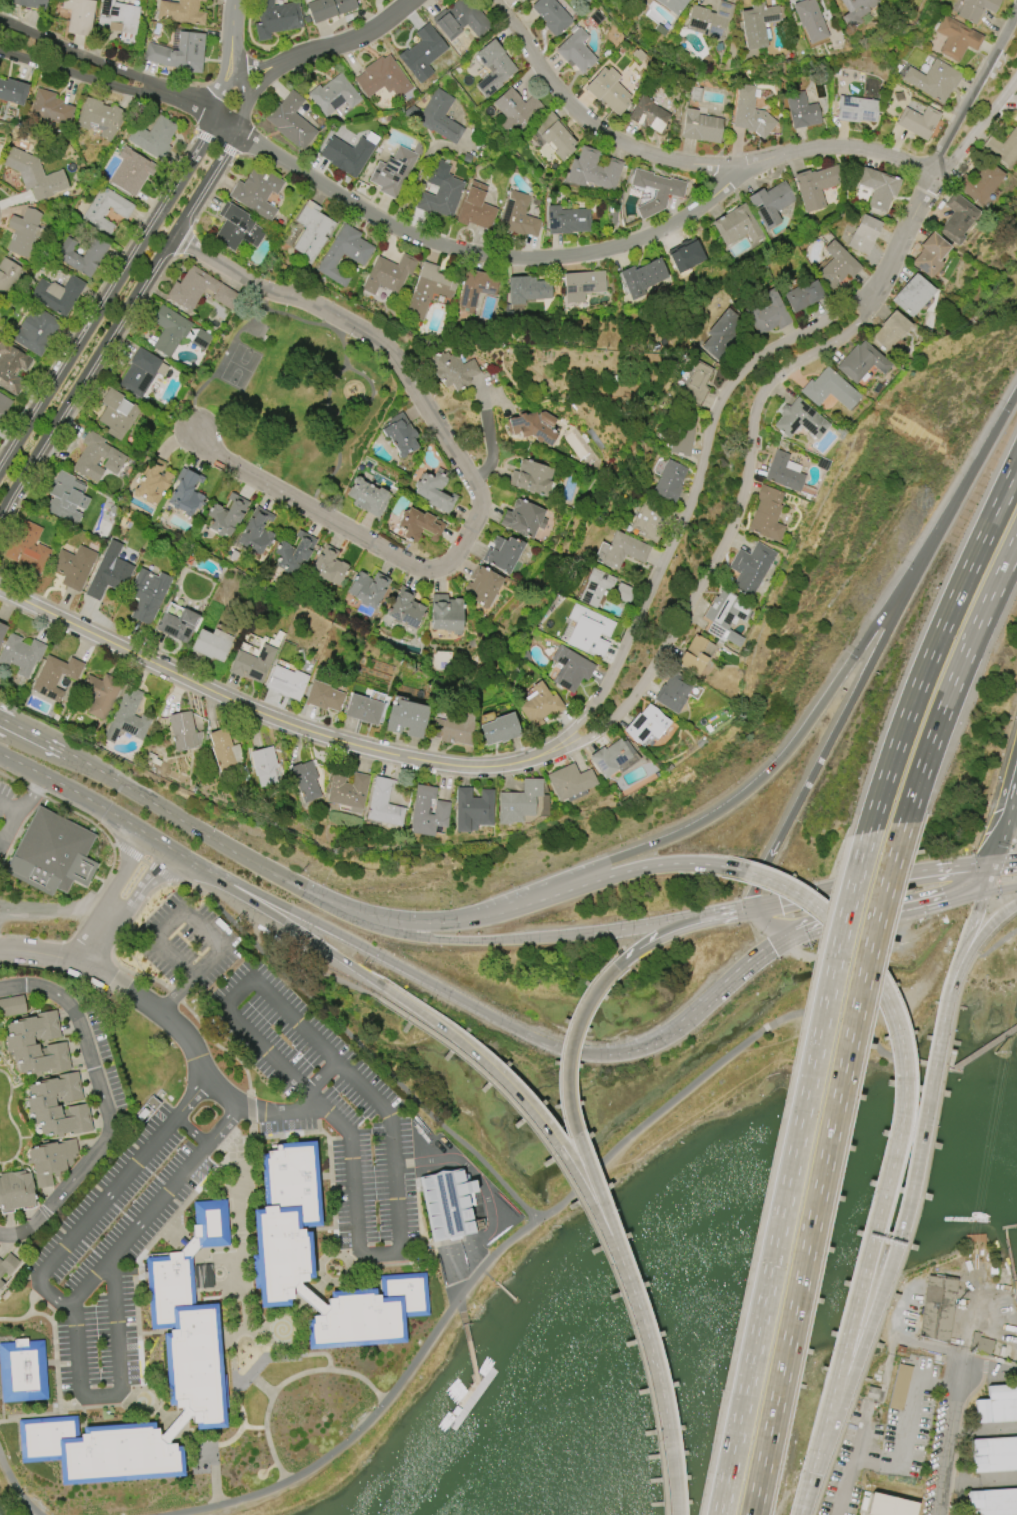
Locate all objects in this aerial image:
building: (522, 0)
building: (30, 3)
building: (672, 5)
building: (327, 8)
building: (975, 9)
building: (856, 11)
building: (180, 12)
building: (79, 16)
building: (117, 16)
building: (551, 16)
road: (232, 18)
building: (276, 18)
building: (709, 19)
building: (461, 20)
building: (809, 20)
building: (757, 24)
building: (956, 38)
road: (350, 40)
building: (576, 51)
building: (422, 53)
building: (179, 54)
road: (83, 56)
road: (245, 58)
road: (228, 66)
building: (492, 68)
road: (237, 71)
road: (81, 76)
building: (382, 78)
building: (933, 80)
road: (972, 90)
building: (608, 91)
building: (13, 92)
road: (251, 92)
building: (333, 95)
building: (695, 95)
building: (50, 107)
building: (856, 110)
building: (516, 111)
building: (801, 111)
building: (750, 113)
building: (649, 115)
building: (100, 117)
building: (436, 117)
building: (290, 121)
building: (918, 121)
building: (700, 127)
road: (977, 129)
building: (554, 136)
building: (153, 138)
building: (1002, 148)
building: (347, 155)
building: (466, 158)
road: (683, 161)
building: (593, 170)
building: (130, 171)
building: (394, 171)
building: (33, 174)
building: (979, 183)
building: (815, 185)
building: (878, 188)
building: (440, 191)
building: (257, 192)
building: (669, 192)
building: (647, 195)
building: (770, 203)
building: (475, 208)
building: (105, 210)
building: (518, 216)
building: (957, 218)
building: (567, 220)
road: (909, 221)
building: (737, 225)
building: (236, 228)
building: (312, 231)
building: (23, 232)
building: (863, 235)
road: (448, 246)
building: (930, 254)
road: (135, 257)
building: (330, 260)
building: (836, 265)
building: (83, 267)
building: (388, 274)
building: (7, 275)
building: (642, 277)
building: (582, 285)
building: (191, 288)
building: (475, 288)
building: (526, 289)
building: (429, 291)
building: (57, 294)
building: (911, 295)
building: (802, 296)
building: (225, 297)
building: (767, 314)
road: (116, 320)
building: (169, 330)
building: (35, 331)
building: (889, 331)
building: (721, 334)
building: (200, 339)
building: (861, 362)
building: (12, 368)
building: (451, 370)
building: (141, 372)
building: (695, 382)
building: (829, 389)
park: (296, 397)
building: (4, 405)
building: (117, 414)
building: (799, 420)
building: (532, 426)
building: (399, 434)
building: (682, 434)
road: (991, 436)
building: (97, 458)
building: (783, 471)
road: (467, 474)
building: (531, 478)
building: (151, 481)
building: (669, 481)
building: (434, 491)
building: (186, 493)
road: (693, 495)
building: (367, 497)
building: (66, 498)
building: (767, 514)
building: (226, 515)
building: (523, 519)
building: (654, 519)
building: (419, 525)
road: (731, 526)
building: (256, 532)
building: (27, 547)
building: (624, 550)
building: (294, 553)
building: (502, 553)
building: (73, 566)
building: (327, 567)
building: (750, 568)
building: (109, 572)
building: (483, 587)
building: (595, 587)
building: (368, 589)
building: (623, 593)
building: (147, 594)
building: (405, 609)
building: (445, 614)
building: (725, 616)
building: (178, 625)
building: (589, 631)
building: (2, 632)
building: (210, 645)
road: (934, 647)
building: (696, 653)
building: (20, 654)
building: (252, 663)
building: (570, 669)
building: (55, 676)
road: (861, 682)
road: (954, 682)
building: (286, 683)
building: (673, 693)
building: (100, 694)
building: (323, 697)
building: (539, 705)
building: (363, 709)
road: (255, 711)
building: (127, 718)
building: (406, 718)
road: (2, 719)
building: (645, 725)
road: (22, 727)
building: (452, 729)
building: (500, 729)
building: (181, 730)
road: (32, 734)
building: (224, 750)
road: (788, 750)
building: (613, 758)
building: (264, 766)
road: (44, 776)
building: (305, 780)
building: (569, 782)
building: (347, 790)
road: (24, 802)
building: (518, 802)
road: (1013, 802)
building: (384, 804)
building: (473, 809)
building: (427, 811)
road: (173, 817)
road: (1004, 819)
road: (134, 827)
road: (8, 828)
building: (51, 853)
road: (1004, 861)
traffic signals: (992, 863)
road: (123, 872)
road: (615, 875)
road: (987, 878)
road: (872, 881)
road: (143, 885)
road: (999, 889)
road: (754, 893)
traffic signals: (983, 894)
road: (979, 904)
road: (1016, 904)
traffic signals: (753, 905)
road: (745, 906)
road: (55, 910)
road: (182, 910)
road: (907, 914)
road: (280, 919)
road: (397, 920)
road: (235, 925)
road: (649, 925)
road: (675, 930)
traffic signals: (831, 930)
road: (785, 931)
road: (417, 937)
road: (94, 938)
road: (979, 938)
road: (996, 944)
road: (963, 946)
road: (375, 953)
road: (743, 973)
road: (335, 981)
road: (948, 992)
road: (237, 993)
road: (175, 995)
building: (12, 1006)
road: (171, 1022)
building: (36, 1044)
road: (619, 1053)
road: (960, 1064)
road: (321, 1077)
road: (370, 1095)
building: (40, 1103)
road: (418, 1103)
road: (104, 1106)
building: (146, 1109)
road: (251, 1113)
road: (329, 1114)
road: (531, 1116)
road: (923, 1119)
road: (571, 1124)
road: (191, 1131)
road: (230, 1144)
road: (895, 1150)
building: (49, 1160)
road: (467, 1167)
road: (824, 1169)
road: (790, 1173)
road: (122, 1179)
building: (16, 1190)
building: (447, 1203)
road: (153, 1206)
road: (586, 1215)
road: (167, 1227)
road: (521, 1231)
road: (908, 1238)
road: (189, 1248)
building: (282, 1250)
road: (379, 1254)
road: (217, 1257)
building: (7, 1265)
road: (335, 1276)
river: (732, 1283)
building: (1, 1284)
pier: (499, 1287)
road: (51, 1293)
road: (309, 1299)
pier: (519, 1305)
building: (936, 1308)
road: (29, 1313)
road: (233, 1318)
road: (284, 1325)
road: (258, 1329)
park: (0, 1335)
pier: (468, 1344)
building: (980, 1344)
building: (899, 1350)
road: (989, 1365)
building: (192, 1369)
building: (22, 1370)
road: (850, 1374)
road: (286, 1381)
road: (260, 1385)
building: (899, 1387)
road: (120, 1389)
building: (872, 1393)
road: (912, 1398)
pier: (471, 1399)
road: (663, 1401)
building: (997, 1405)
road: (145, 1407)
road: (48, 1414)
road: (241, 1426)
road: (173, 1428)
road: (253, 1428)
road: (948, 1443)
building: (993, 1454)
road: (212, 1456)
road: (877, 1461)
road: (852, 1463)
road: (17, 1485)
building: (992, 1502)
building: (889, 1505)

